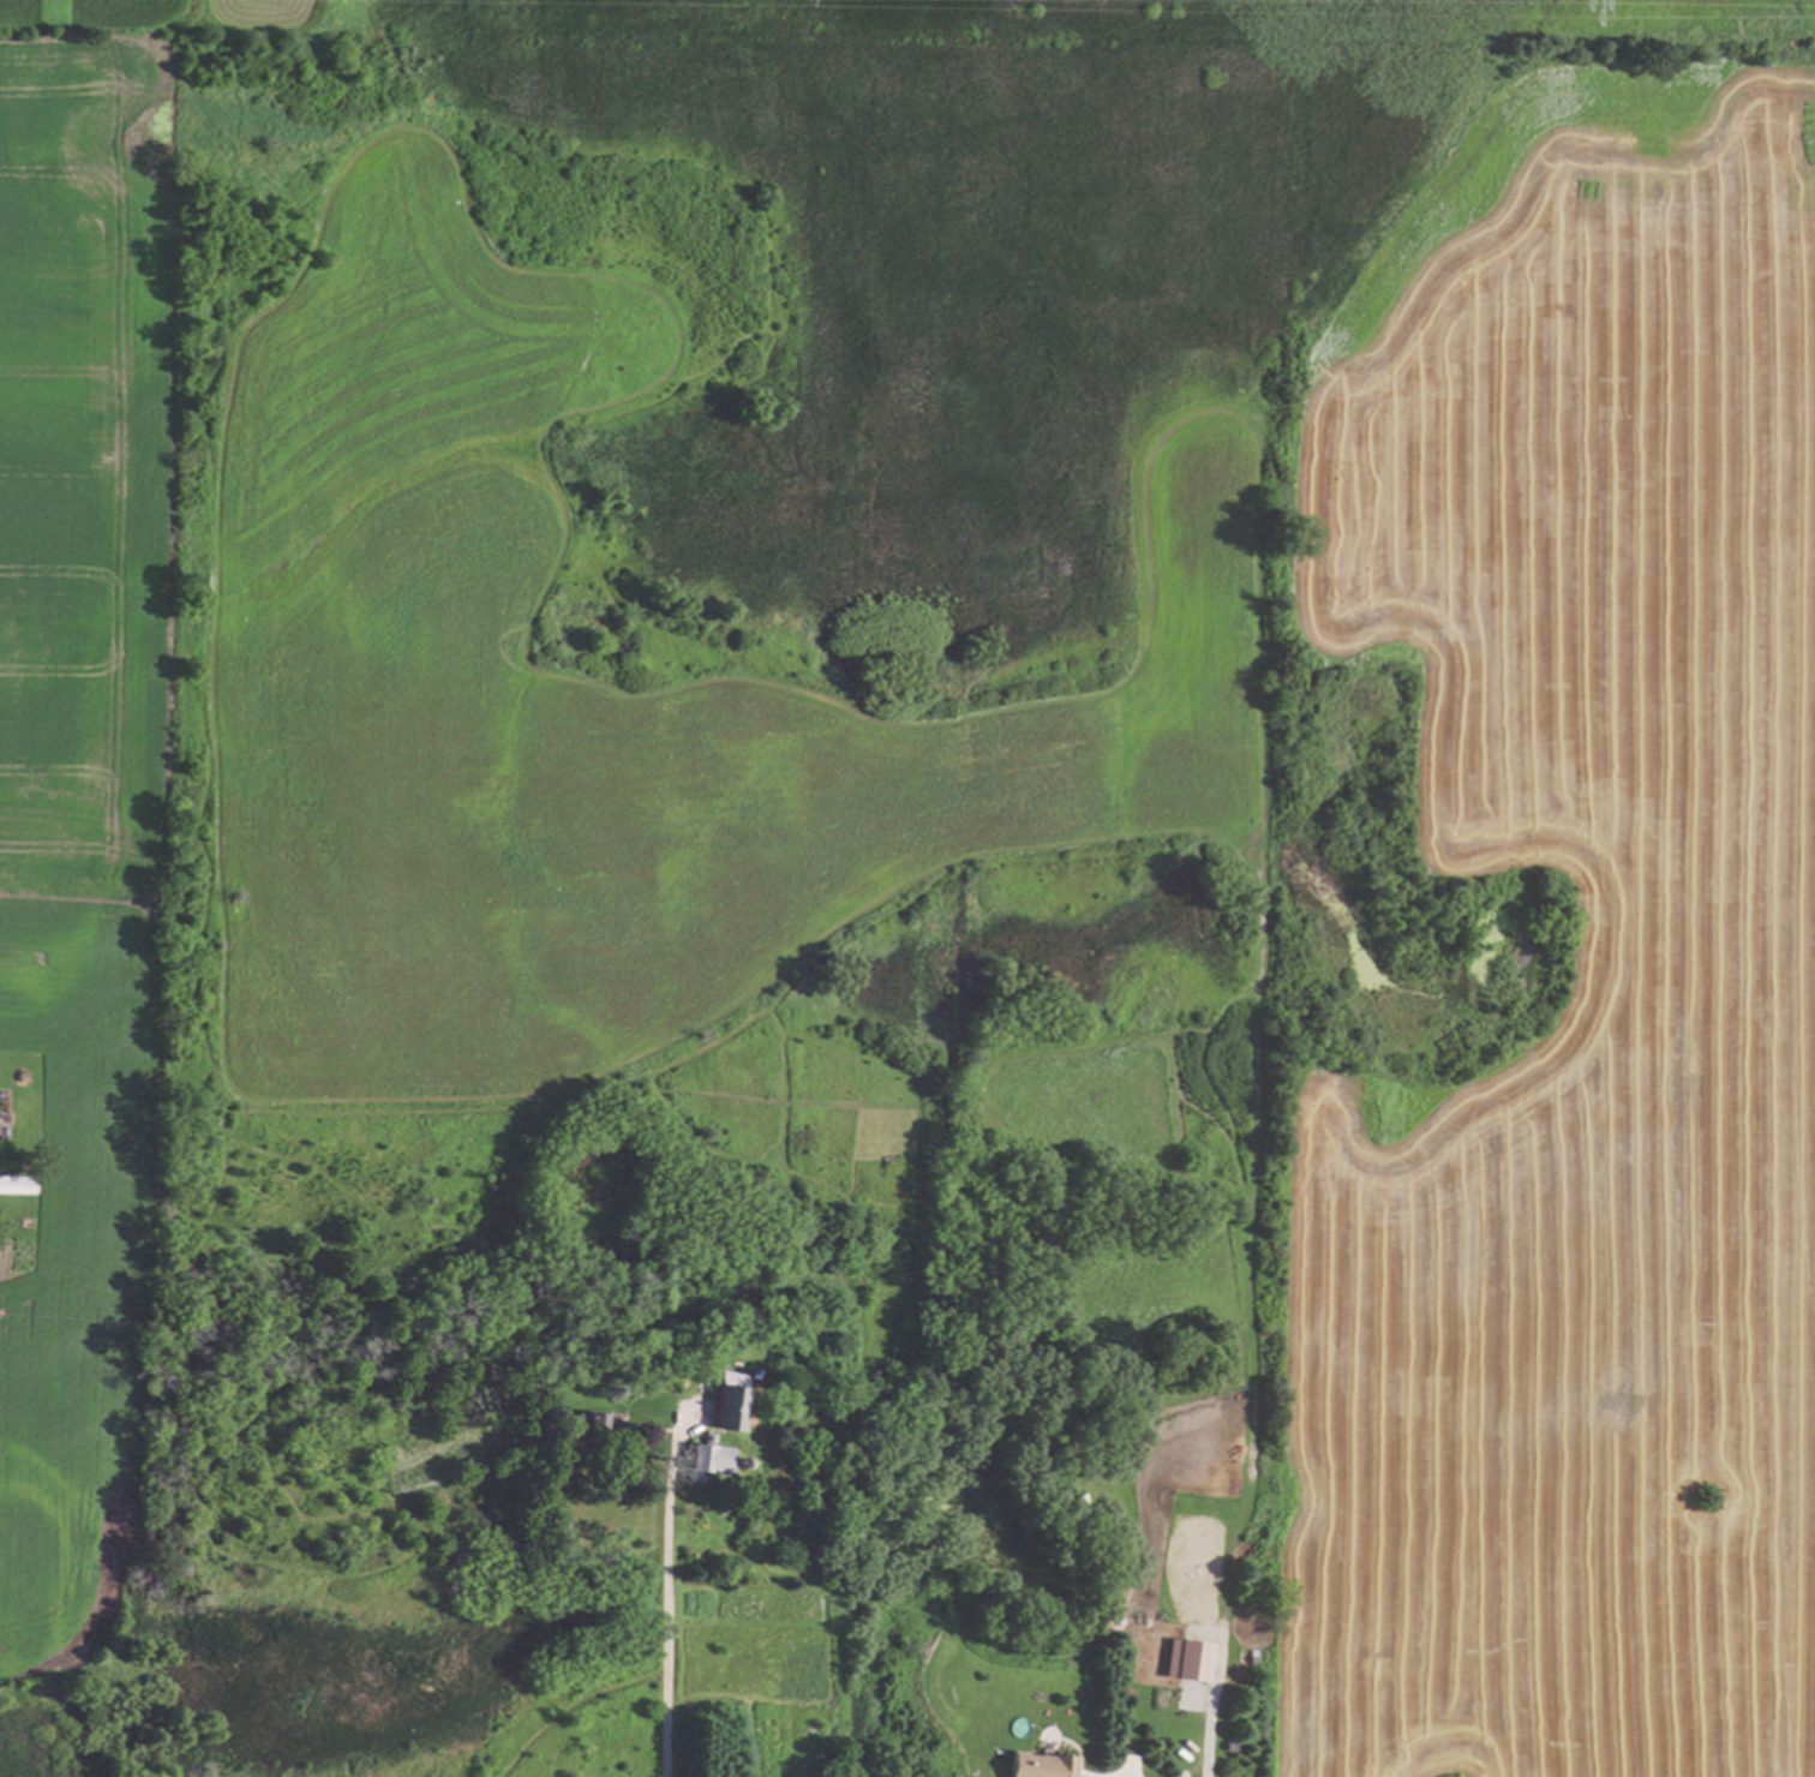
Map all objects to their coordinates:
power tower: (1529, 5)
crop: (94, 752)
crop: (1577, 959)
building: (14, 1183)
building: (727, 1404)
building: (605, 1420)
building: (707, 1456)
road: (669, 1608)
building: (1187, 1658)
road: (1208, 1763)
building: (1041, 1765)

